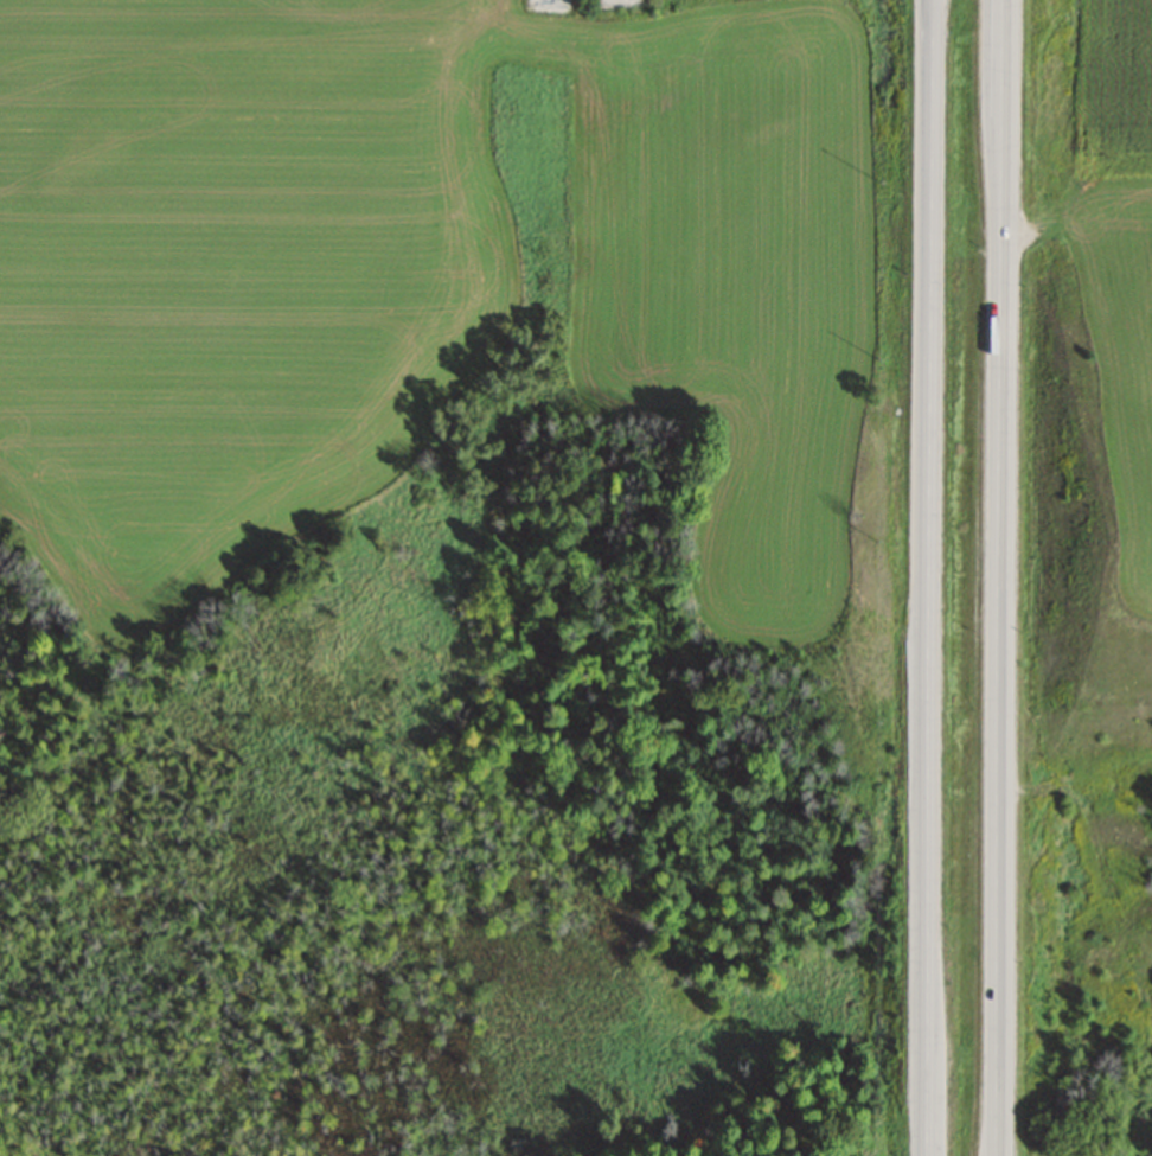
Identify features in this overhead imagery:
road: (926, 577)
road: (993, 577)
building: (1074, 1149)

